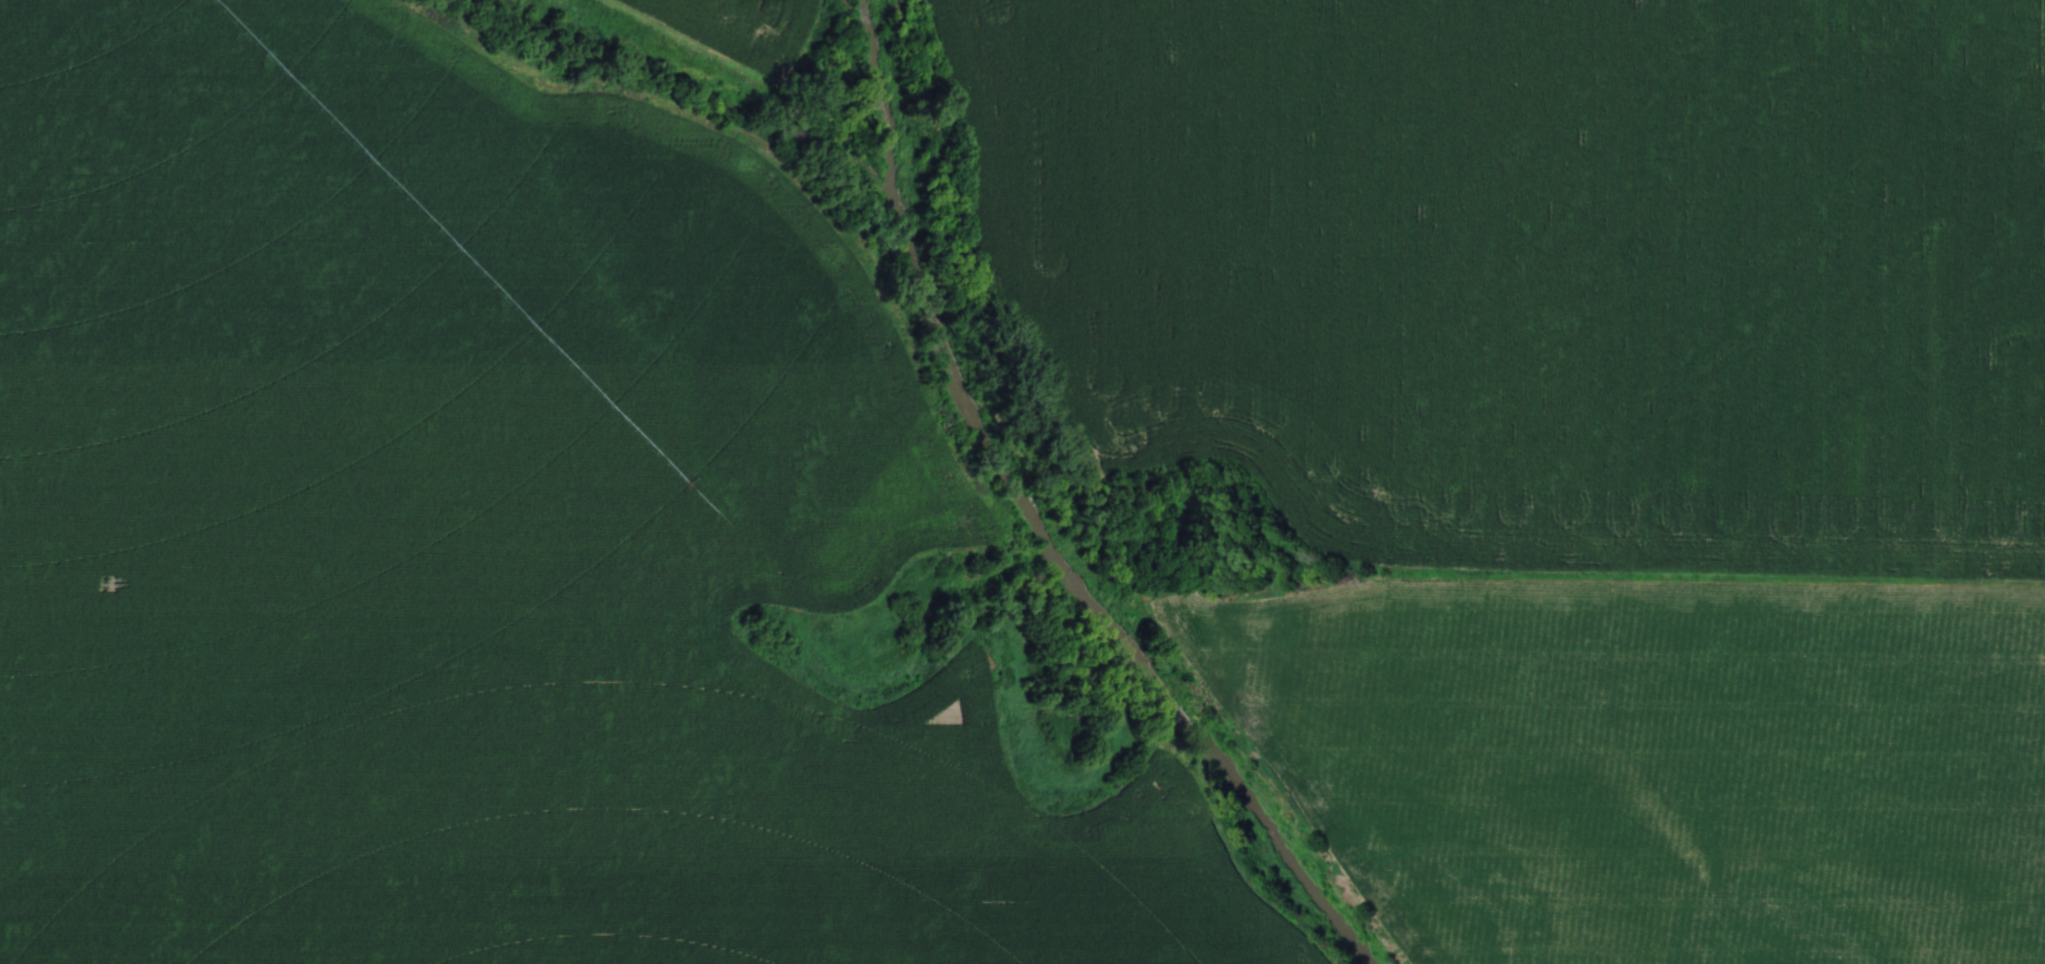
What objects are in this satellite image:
river: (1048, 518)

